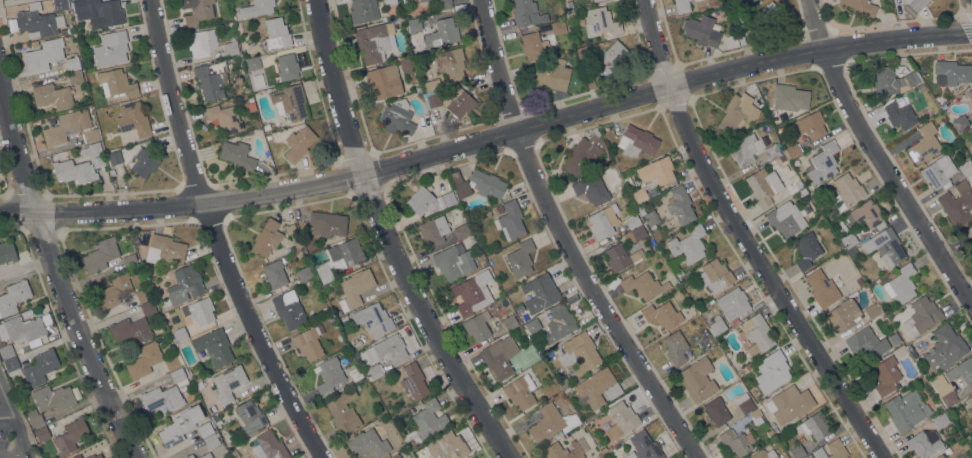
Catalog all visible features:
building: (422, 0)
building: (596, 0)
building: (390, 2)
building: (60, 4)
building: (568, 4)
building: (440, 5)
building: (682, 6)
building: (913, 6)
building: (860, 7)
building: (256, 8)
building: (363, 11)
building: (199, 12)
building: (98, 13)
building: (527, 13)
building: (571, 15)
building: (764, 20)
building: (600, 21)
building: (38, 22)
building: (580, 22)
building: (414, 25)
building: (558, 27)
building: (701, 30)
building: (442, 33)
building: (275, 34)
building: (374, 42)
building: (202, 43)
road: (658, 44)
building: (534, 46)
building: (111, 48)
building: (230, 48)
building: (43, 55)
building: (607, 59)
building: (407, 63)
building: (73, 64)
building: (253, 64)
building: (450, 64)
building: (287, 66)
building: (951, 73)
building: (551, 75)
building: (75, 77)
building: (211, 79)
building: (383, 81)
building: (893, 82)
building: (117, 84)
building: (432, 85)
building: (970, 94)
building: (52, 96)
building: (789, 97)
building: (432, 99)
building: (289, 101)
building: (459, 102)
building: (971, 105)
building: (899, 114)
building: (737, 115)
building: (133, 119)
building: (224, 119)
building: (396, 119)
building: (959, 123)
building: (811, 125)
building: (66, 126)
building: (266, 127)
building: (970, 132)
building: (91, 136)
road: (488, 139)
building: (637, 141)
building: (298, 143)
building: (924, 144)
building: (744, 149)
building: (792, 151)
building: (772, 152)
building: (584, 153)
building: (92, 154)
building: (237, 155)
building: (114, 157)
road: (880, 157)
building: (782, 158)
building: (144, 163)
building: (822, 163)
building: (966, 167)
building: (74, 171)
building: (657, 171)
building: (938, 172)
building: (487, 183)
building: (459, 184)
building: (798, 184)
building: (763, 186)
building: (591, 190)
building: (846, 191)
building: (803, 192)
building: (639, 195)
building: (429, 201)
building: (957, 204)
building: (680, 205)
building: (499, 209)
building: (865, 215)
building: (651, 218)
building: (785, 219)
building: (510, 220)
building: (632, 221)
building: (327, 224)
building: (600, 224)
building: (434, 230)
building: (461, 231)
building: (294, 234)
building: (967, 234)
building: (635, 235)
road: (572, 237)
road: (215, 238)
building: (266, 238)
building: (136, 240)
road: (392, 240)
building: (848, 240)
building: (689, 244)
building: (885, 247)
building: (164, 249)
building: (806, 250)
building: (7, 252)
building: (100, 255)
building: (619, 257)
building: (339, 258)
building: (490, 258)
building: (520, 258)
building: (129, 261)
building: (453, 261)
building: (484, 263)
road: (56, 271)
building: (274, 274)
building: (304, 274)
building: (714, 276)
road: (771, 276)
building: (859, 282)
building: (901, 284)
building: (185, 285)
building: (643, 285)
building: (822, 288)
building: (354, 289)
building: (115, 290)
building: (472, 292)
building: (542, 293)
building: (143, 295)
building: (13, 297)
building: (733, 303)
building: (148, 308)
building: (289, 310)
building: (199, 311)
building: (871, 311)
building: (523, 314)
building: (662, 314)
building: (843, 314)
building: (922, 316)
building: (374, 320)
building: (509, 322)
building: (559, 323)
building: (477, 326)
building: (533, 326)
building: (719, 326)
building: (24, 330)
building: (130, 330)
building: (756, 334)
building: (178, 335)
building: (897, 341)
building: (309, 343)
building: (866, 345)
building: (214, 346)
building: (946, 346)
building: (390, 348)
building: (676, 348)
building: (6, 351)
building: (900, 351)
building: (580, 353)
building: (912, 353)
building: (497, 359)
building: (144, 360)
building: (172, 363)
building: (12, 366)
building: (40, 367)
building: (374, 371)
building: (771, 371)
building: (961, 371)
building: (329, 375)
building: (886, 375)
building: (697, 379)
building: (414, 381)
building: (228, 383)
building: (598, 387)
building: (520, 391)
building: (166, 393)
building: (945, 394)
building: (53, 398)
building: (969, 401)
building: (744, 403)
building: (791, 404)
building: (906, 410)
building: (716, 411)
building: (343, 412)
building: (225, 414)
building: (753, 414)
road: (6, 416)
building: (249, 418)
road: (14, 419)
building: (35, 419)
building: (428, 419)
building: (621, 420)
building: (940, 420)
building: (551, 423)
building: (816, 425)
building: (178, 426)
building: (205, 429)
building: (42, 434)
building: (71, 436)
building: (211, 441)
building: (735, 442)
building: (368, 444)
building: (924, 445)
building: (269, 446)
building: (447, 446)
building: (616, 446)
building: (643, 447)
building: (831, 450)
building: (562, 451)
building: (797, 451)
building: (764, 454)
road: (11, 455)
building: (77, 456)
building: (94, 456)
building: (190, 456)
building: (206, 456)
building: (395, 456)
building: (939, 456)
building: (472, 457)
building: (474, 457)
building: (955, 457)

